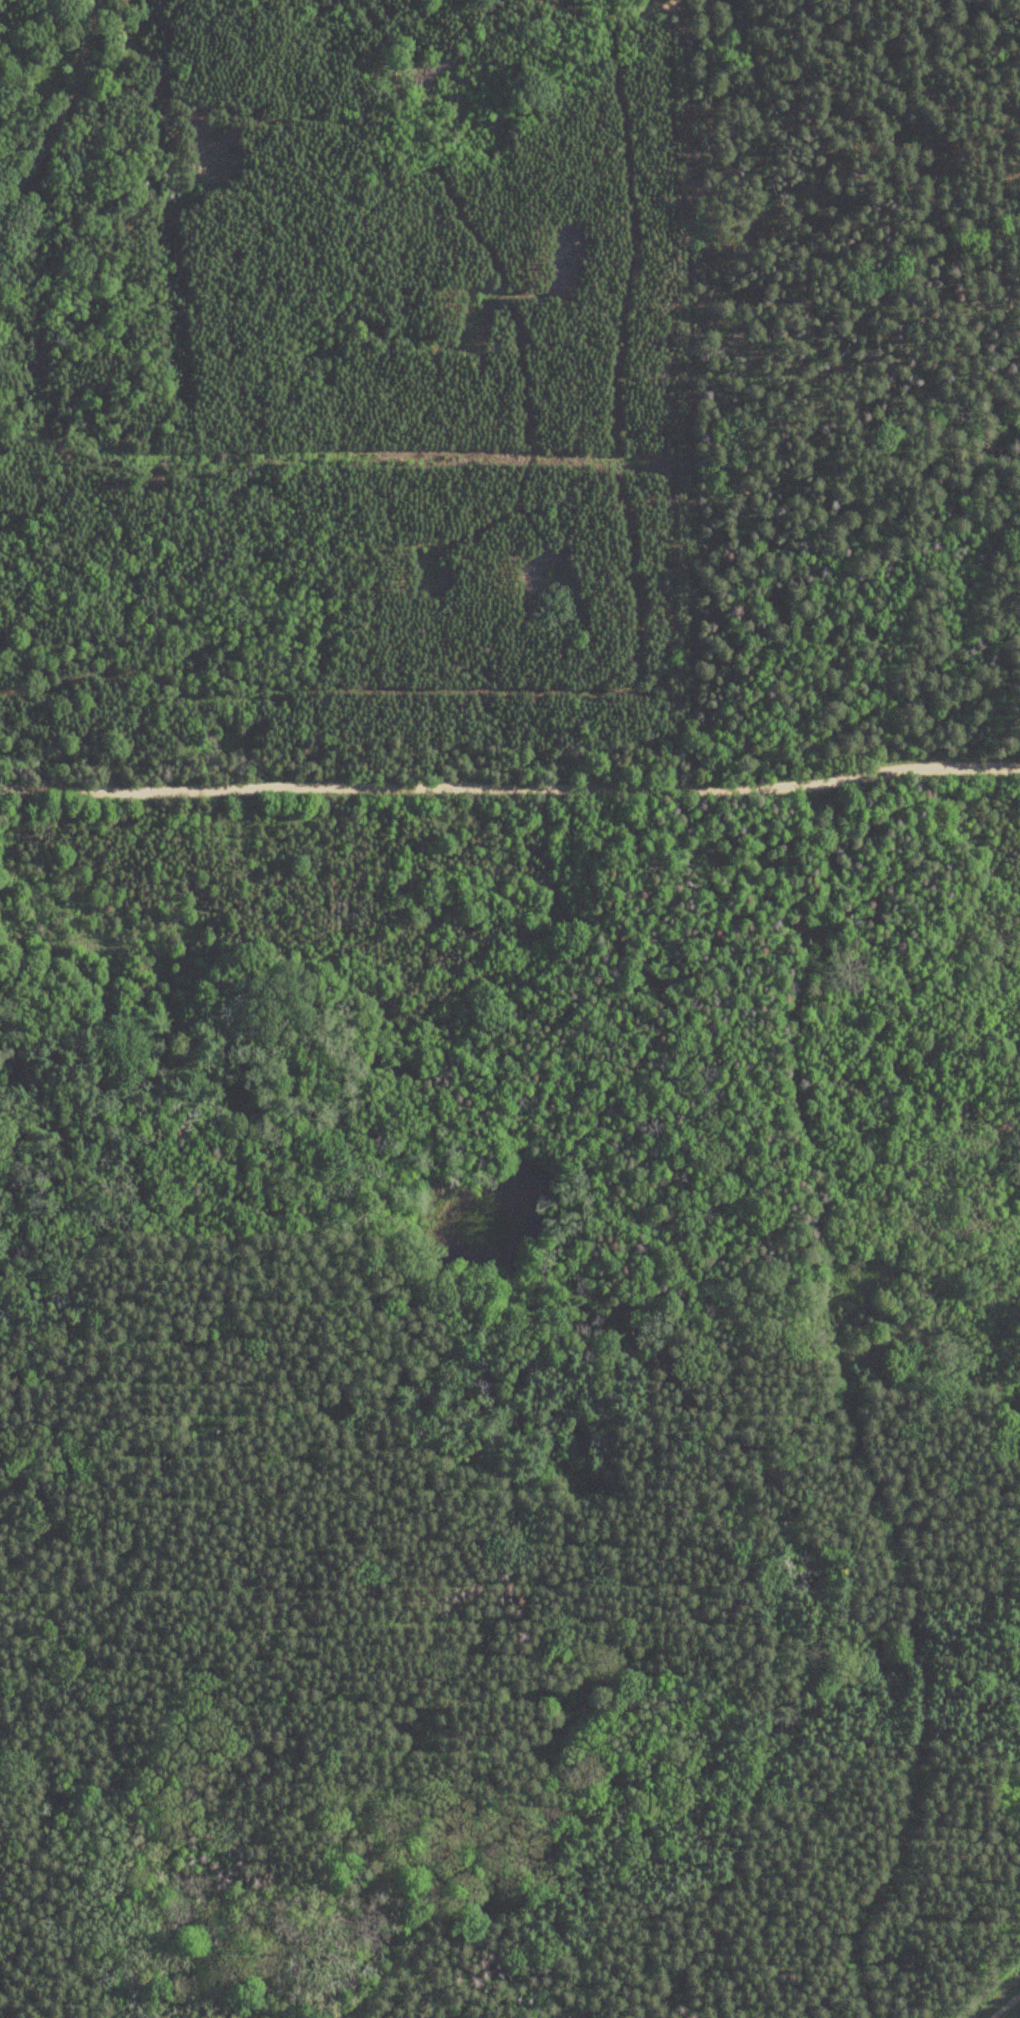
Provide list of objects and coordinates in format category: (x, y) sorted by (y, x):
road: (510, 790)
park: (562, 1224)
road: (50, 1957)

